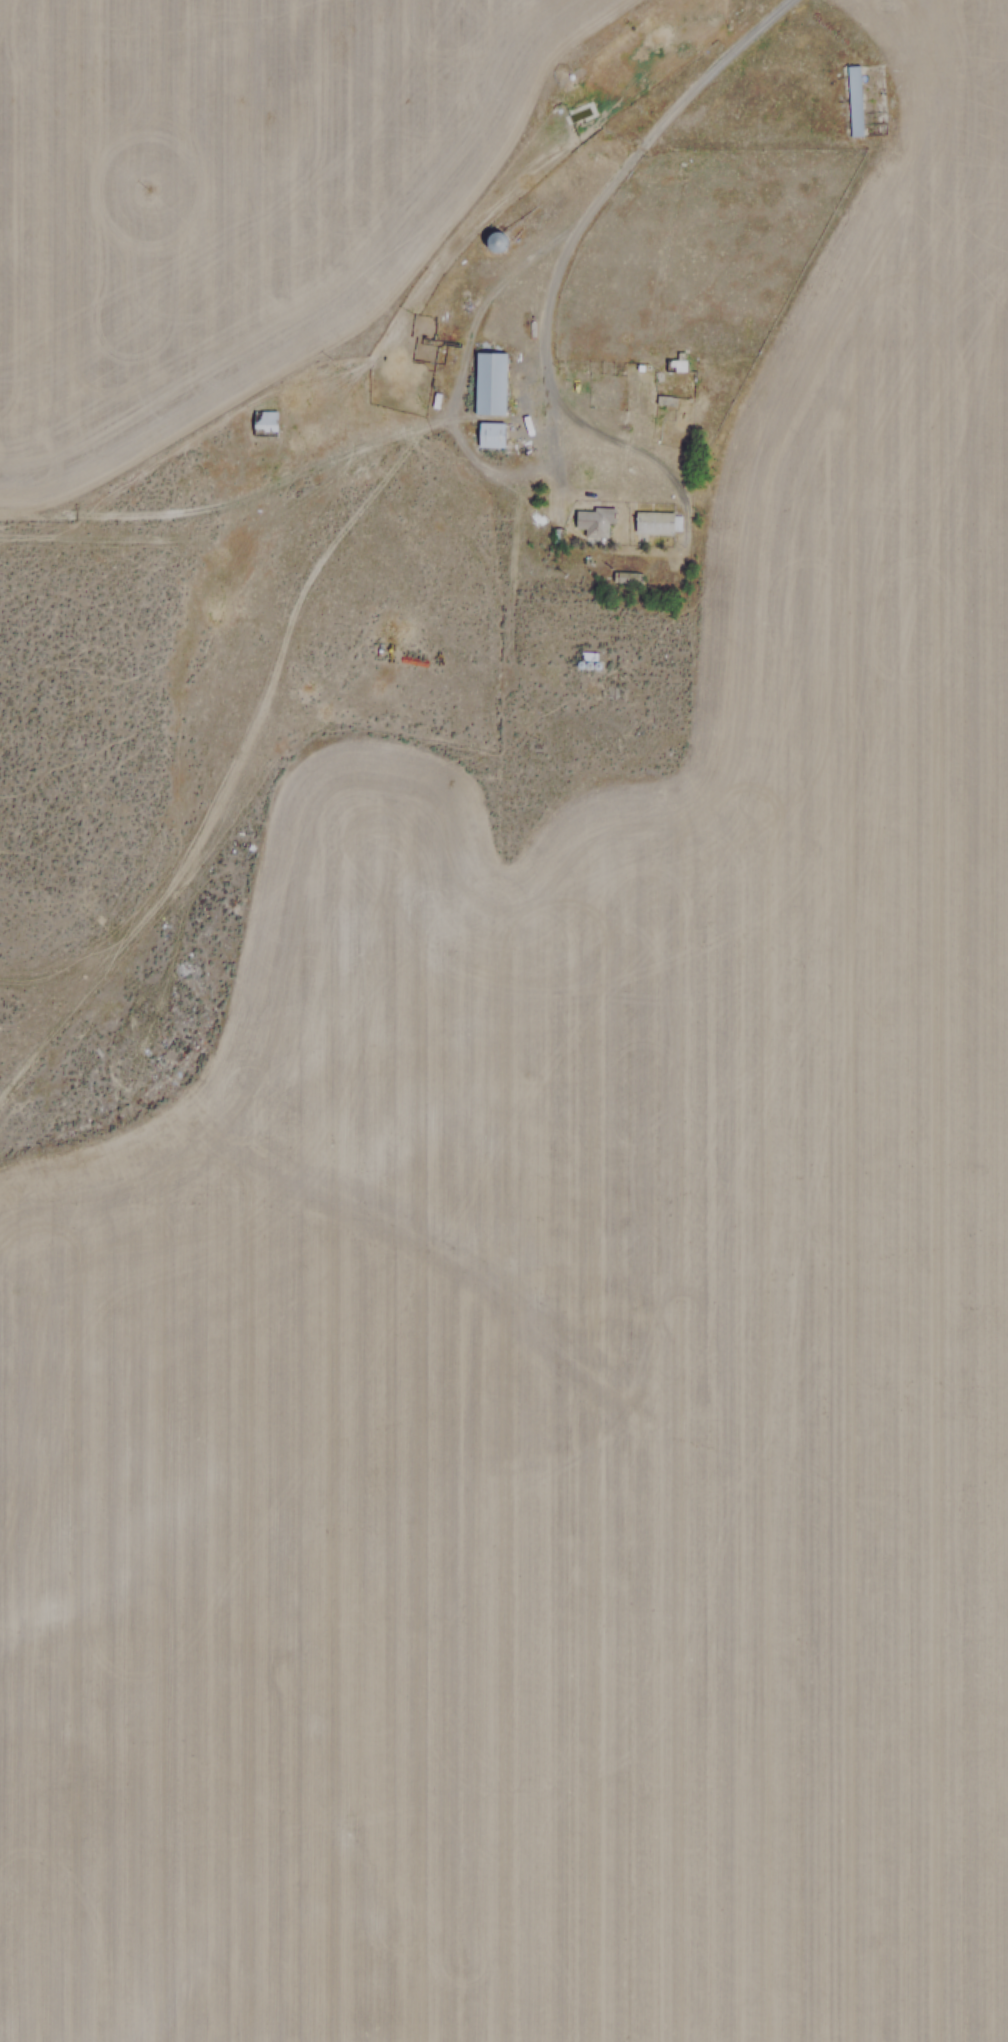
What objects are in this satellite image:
building: (852, 100)
building: (493, 238)
silo: (493, 238)
road: (569, 245)
building: (675, 365)
building: (488, 382)
road: (457, 394)
building: (434, 399)
building: (262, 421)
building: (489, 433)
road: (232, 496)
building: (596, 519)
building: (654, 521)
building: (625, 576)
building: (587, 659)
silo: (587, 659)

